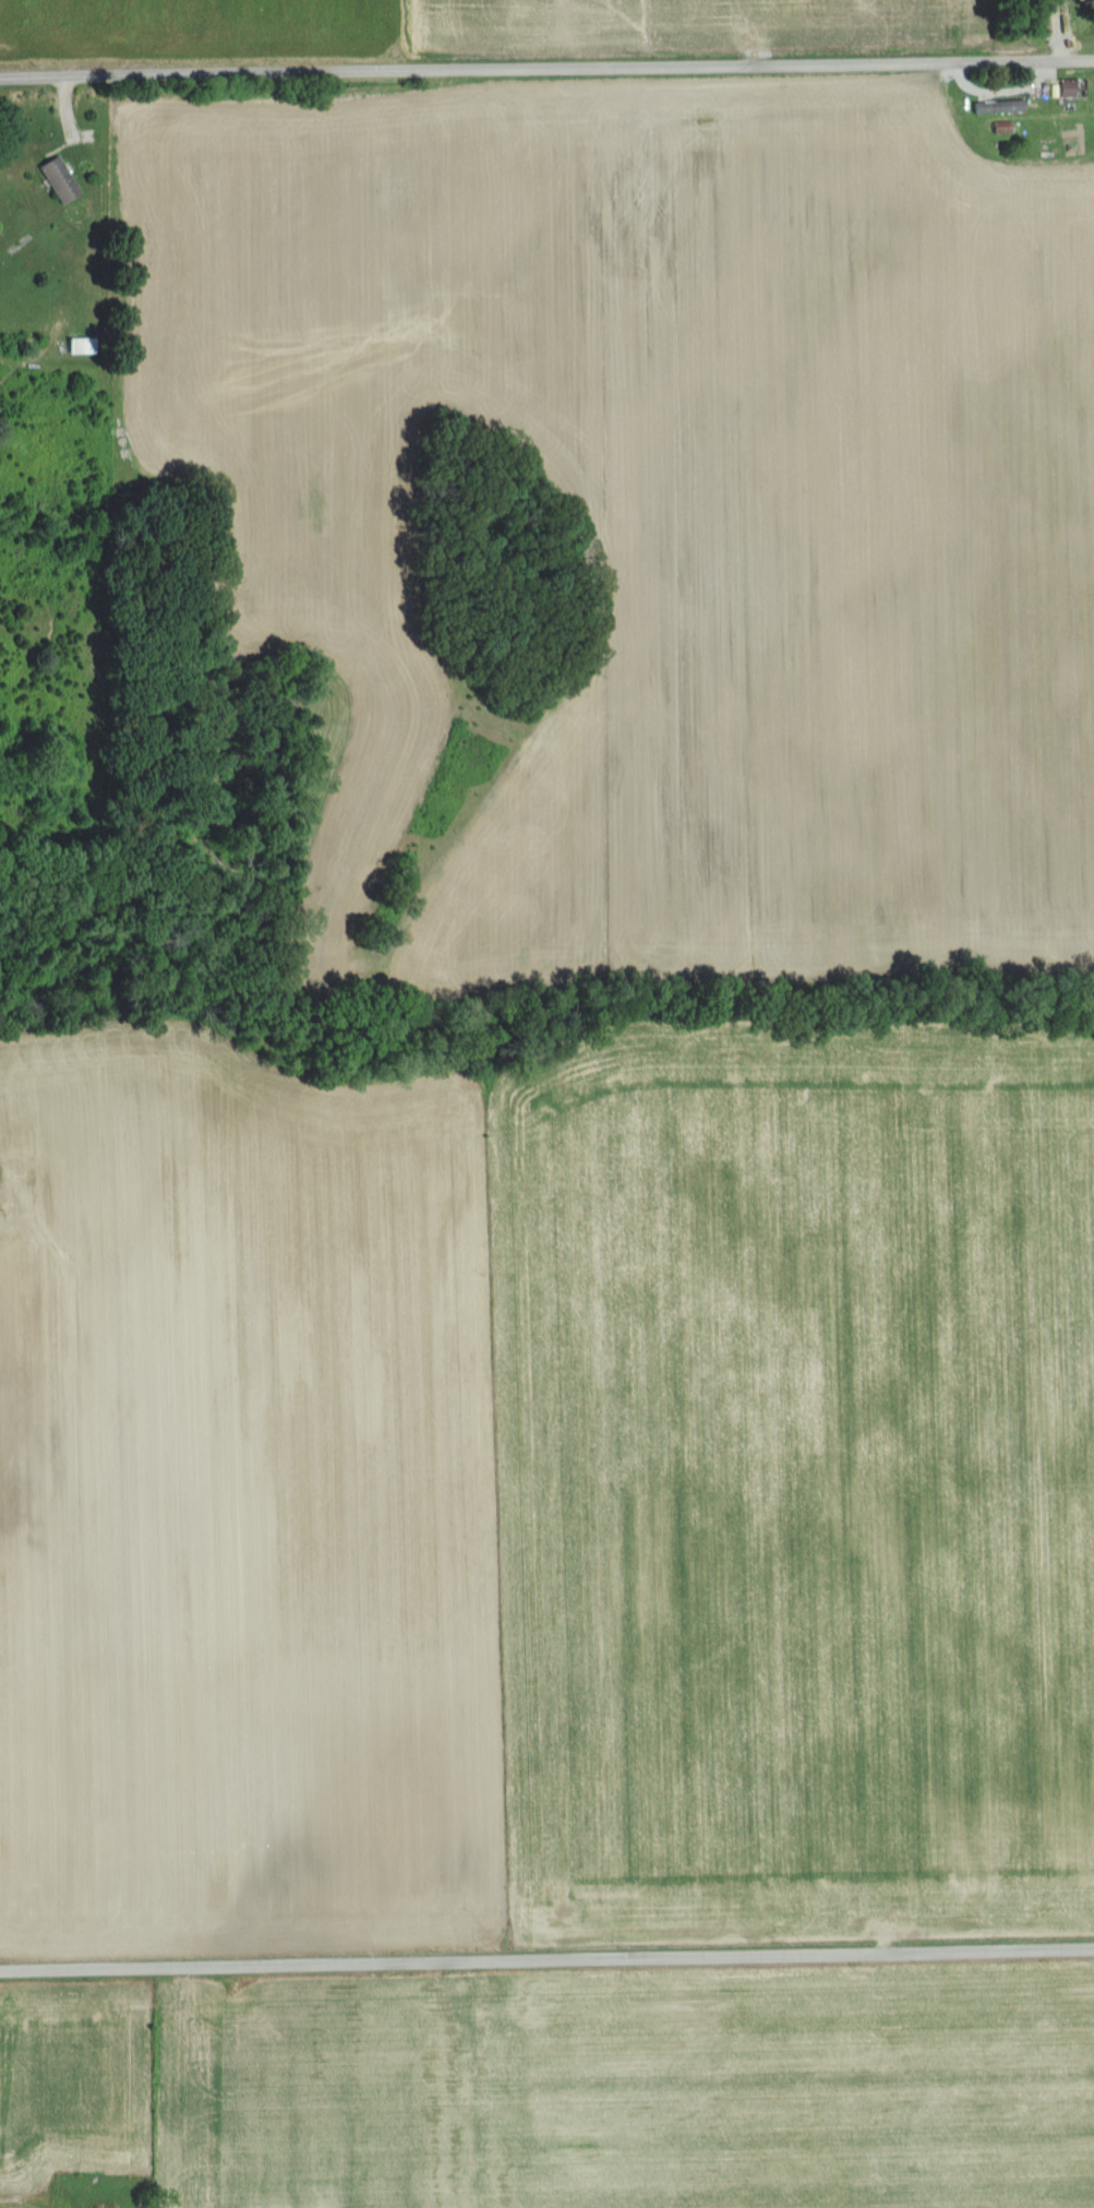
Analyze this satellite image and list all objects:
road: (546, 70)
building: (1068, 87)
building: (994, 106)
building: (58, 180)
building: (80, 346)
road: (546, 1966)

